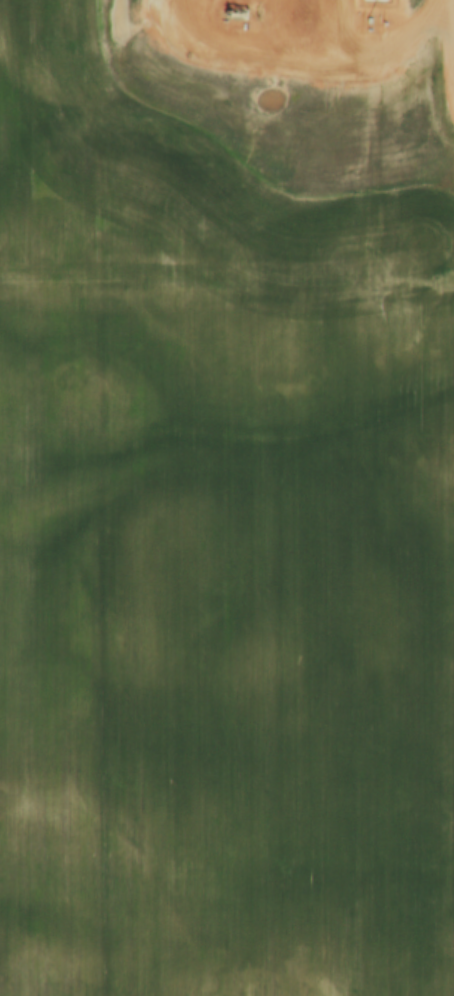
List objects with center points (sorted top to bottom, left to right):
building: (233, 11)
road: (332, 27)
road: (405, 39)
road: (245, 59)
building: (394, 71)

